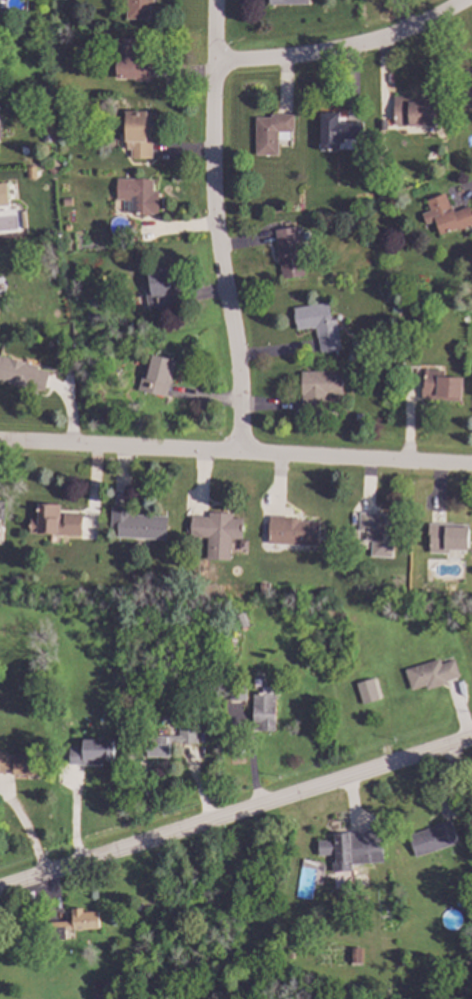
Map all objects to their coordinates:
building: (286, 2)
building: (140, 9)
road: (347, 54)
building: (131, 62)
building: (464, 87)
building: (413, 108)
building: (337, 131)
building: (269, 132)
building: (137, 133)
building: (3, 196)
building: (135, 197)
building: (447, 215)
road: (217, 227)
building: (287, 256)
building: (159, 288)
building: (0, 309)
building: (319, 325)
building: (21, 373)
building: (157, 377)
building: (442, 385)
building: (321, 386)
road: (236, 453)
building: (1, 510)
building: (53, 520)
building: (138, 524)
building: (292, 531)
building: (217, 532)
building: (377, 533)
building: (446, 538)
building: (430, 674)
building: (366, 692)
building: (264, 709)
building: (170, 742)
building: (90, 752)
building: (22, 764)
road: (236, 813)
building: (432, 838)
building: (345, 848)
building: (386, 915)
building: (73, 924)
building: (355, 955)
building: (455, 972)
building: (100, 990)

